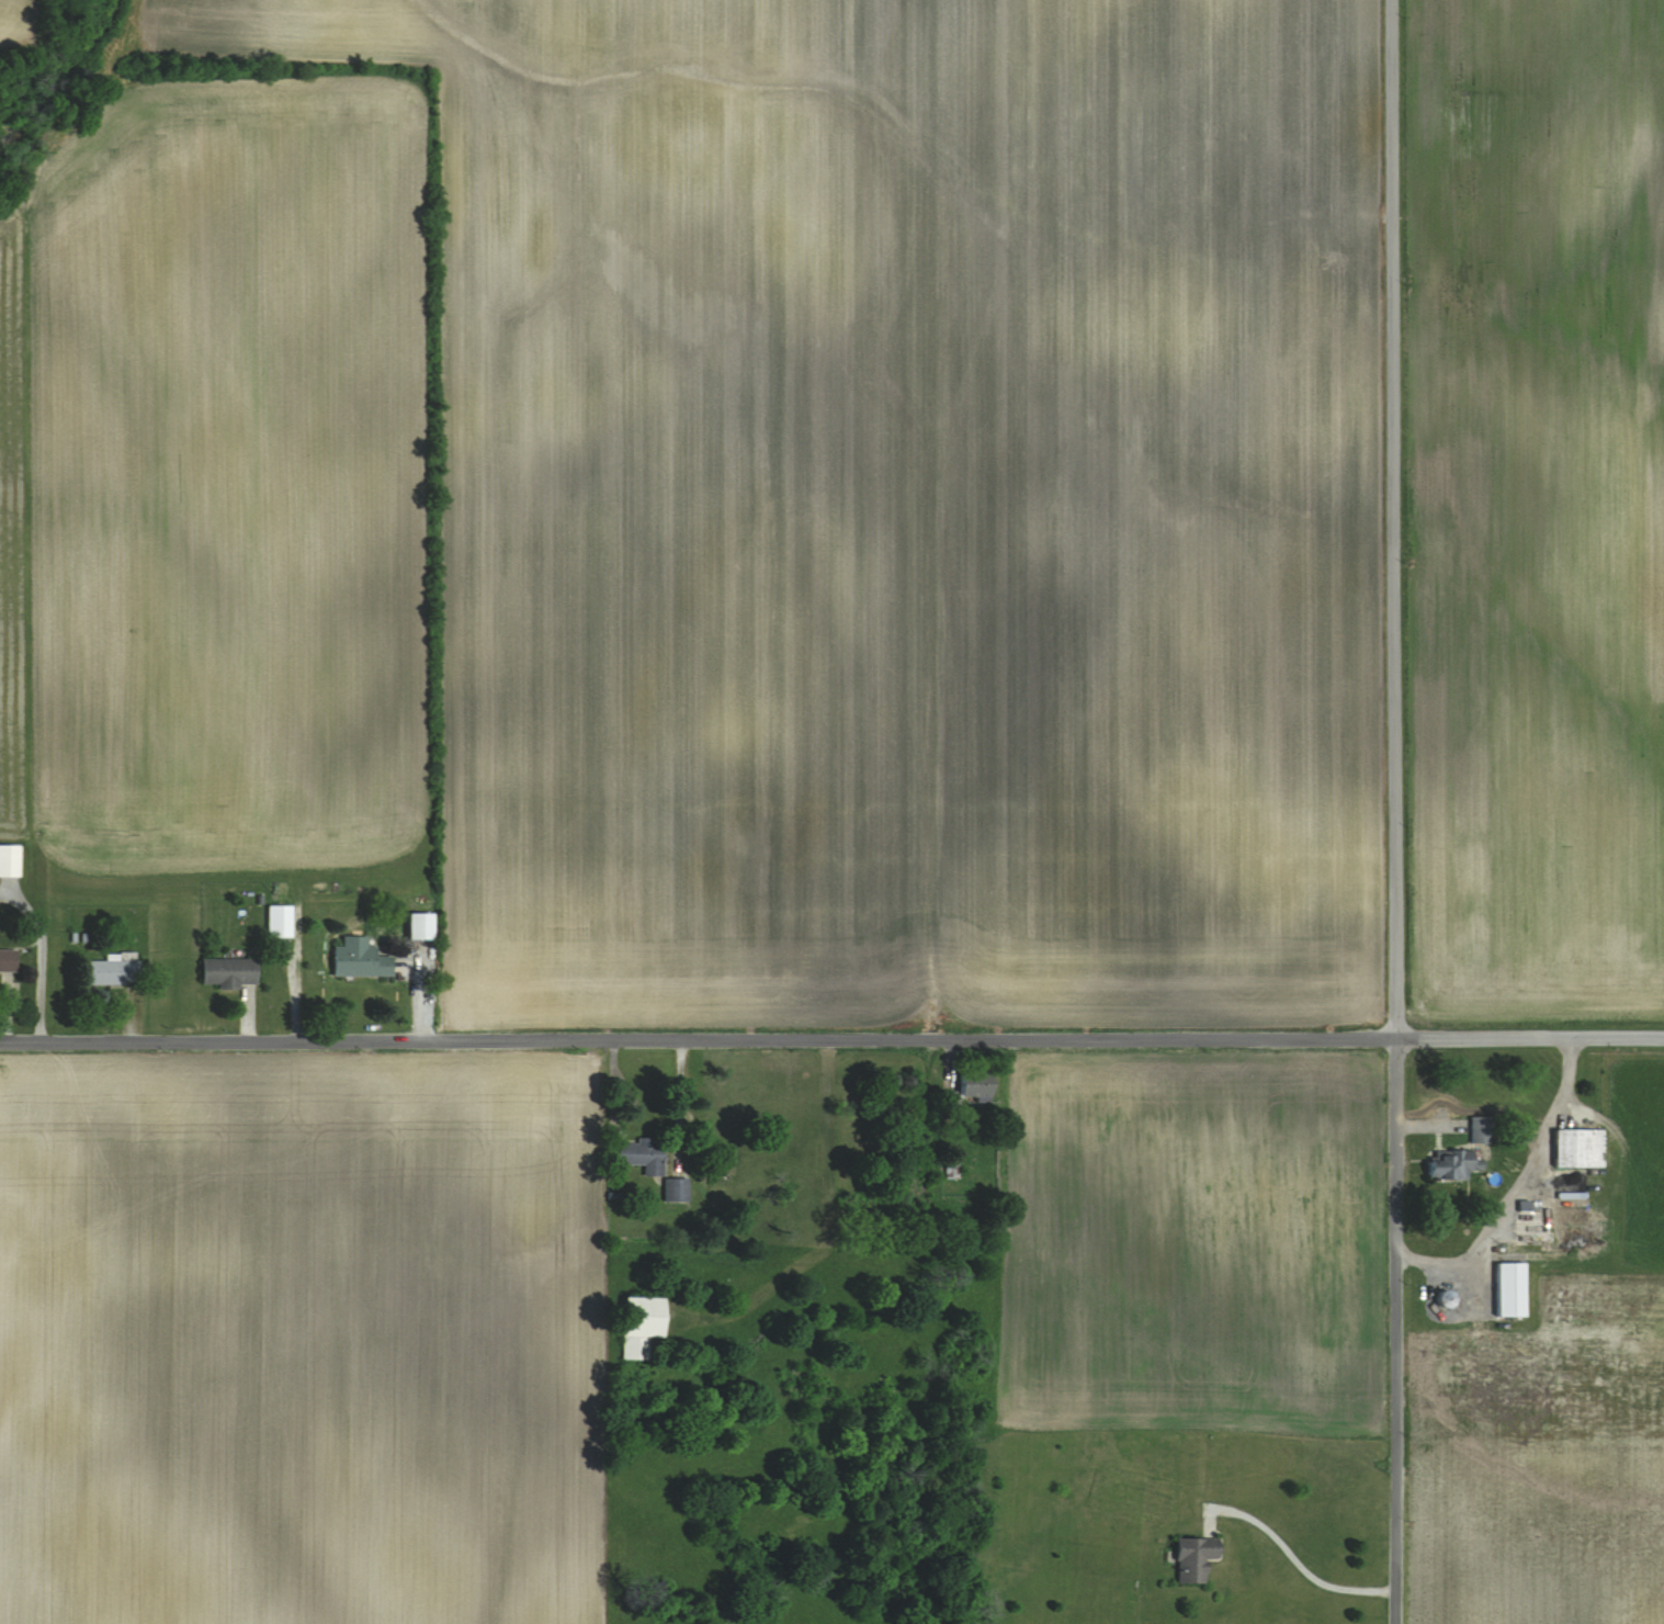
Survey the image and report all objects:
road: (1395, 812)
building: (8, 860)
building: (278, 921)
building: (418, 926)
building: (358, 960)
building: (228, 972)
building: (112, 973)
road: (831, 1041)
building: (965, 1096)
building: (1479, 1129)
building: (1577, 1148)
building: (642, 1154)
building: (1449, 1164)
building: (950, 1172)
road: (1515, 1185)
building: (675, 1189)
building: (1508, 1290)
building: (1442, 1299)
building: (639, 1326)
road: (1294, 1558)
building: (1193, 1559)

